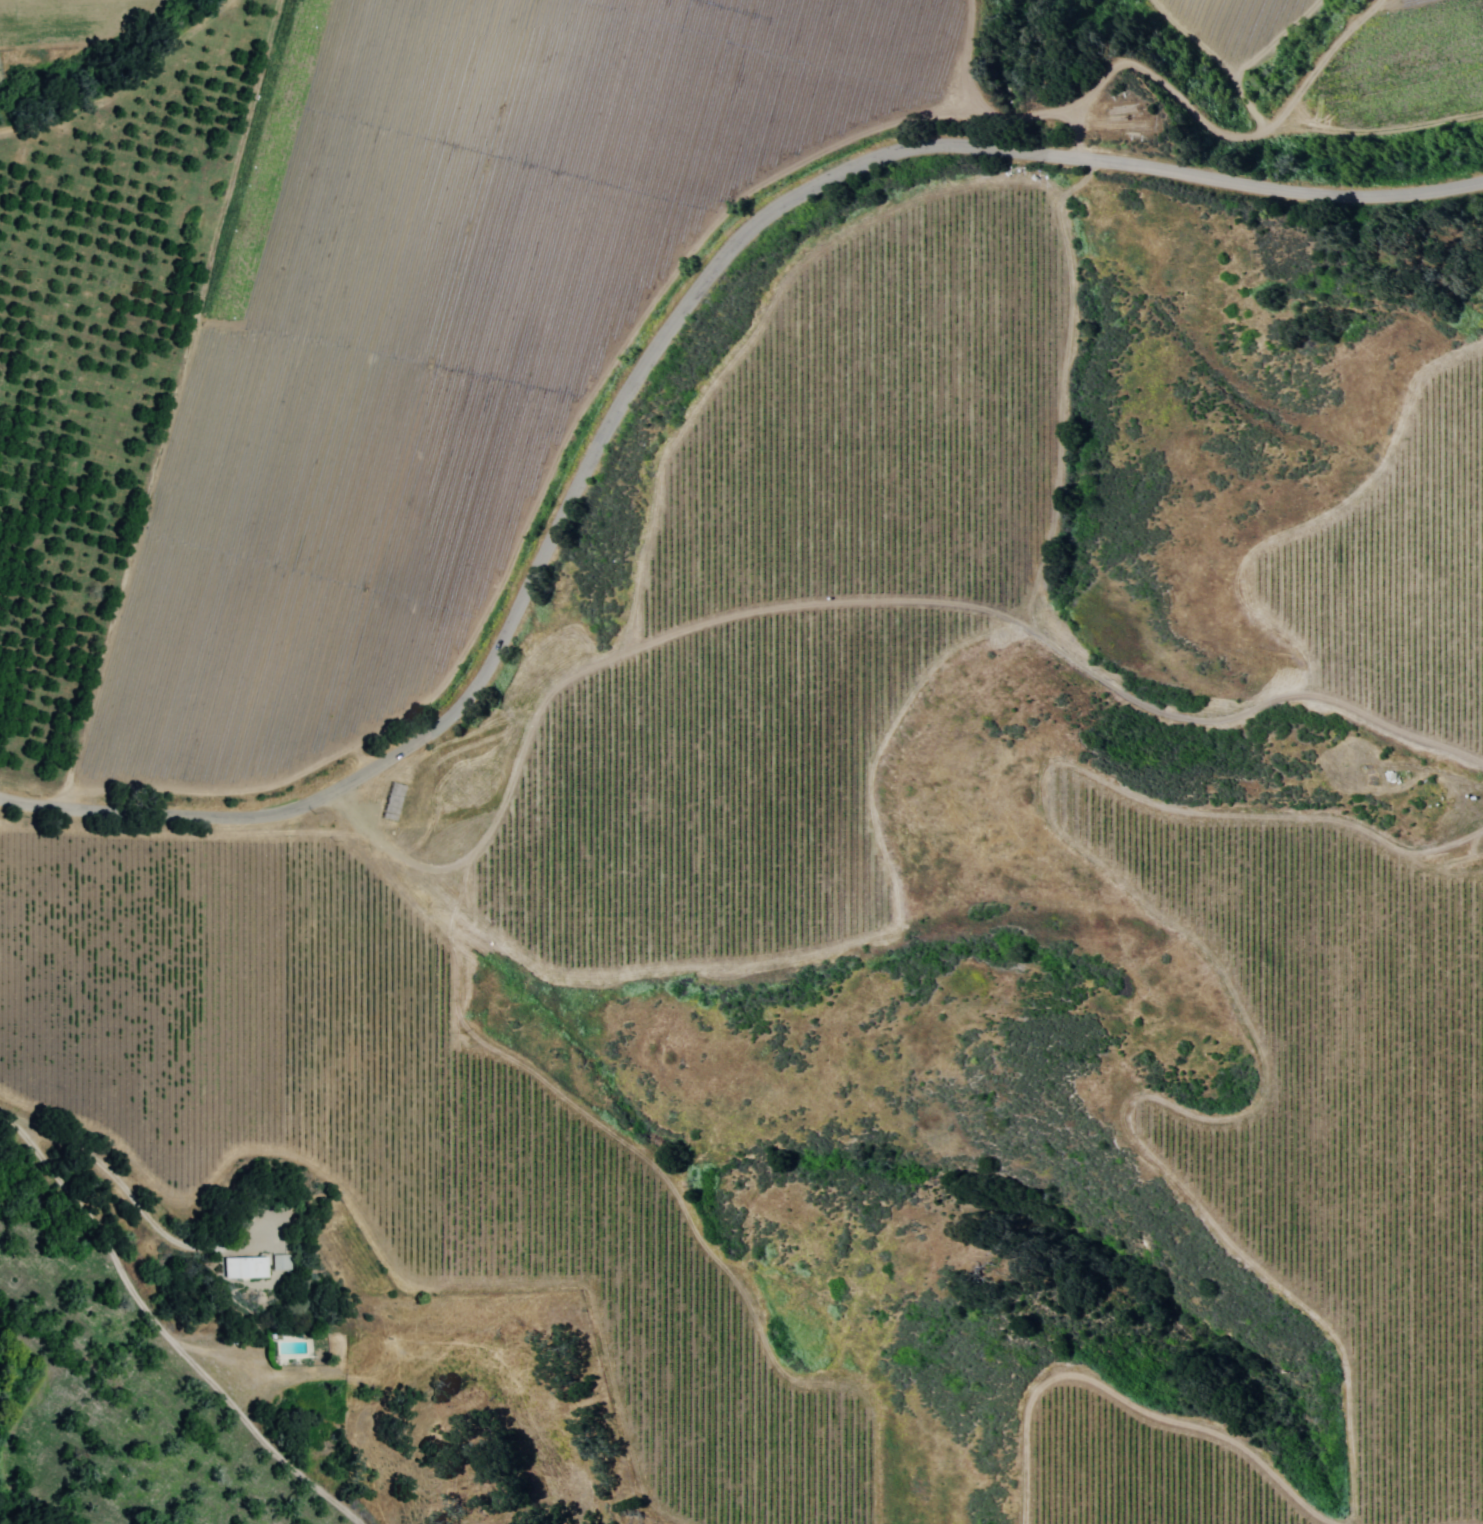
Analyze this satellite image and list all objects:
crop: (1354, 54)
road: (658, 346)
crop: (477, 627)
building: (280, 1261)
building: (244, 1266)
road: (166, 1337)

